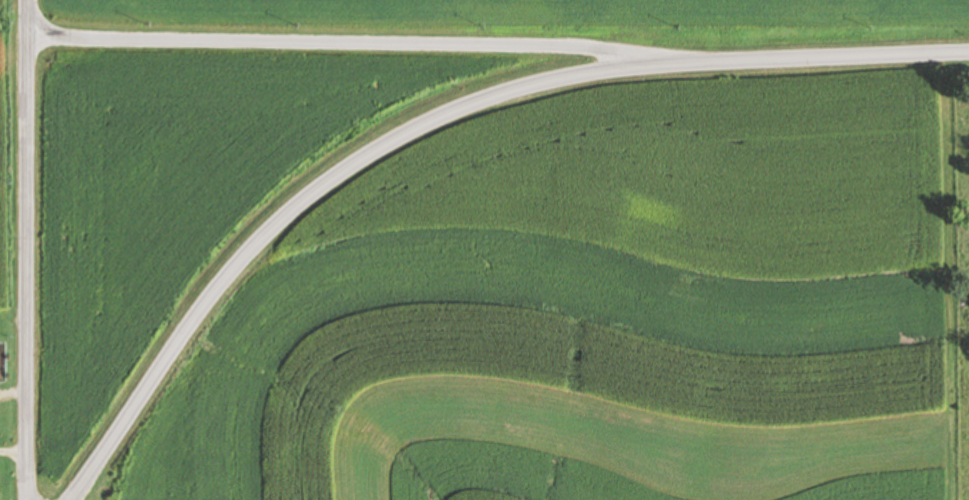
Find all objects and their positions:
road: (796, 28)
road: (12, 35)
road: (331, 40)
road: (433, 114)
road: (25, 249)
road: (13, 311)

